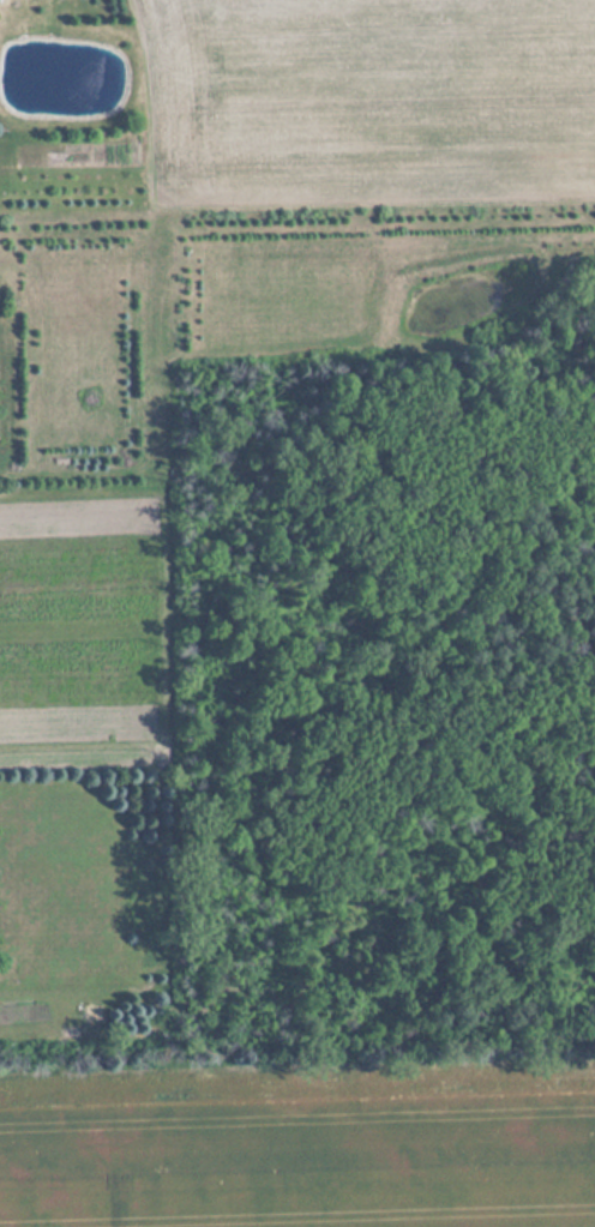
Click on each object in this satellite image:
building: (1, 1)

